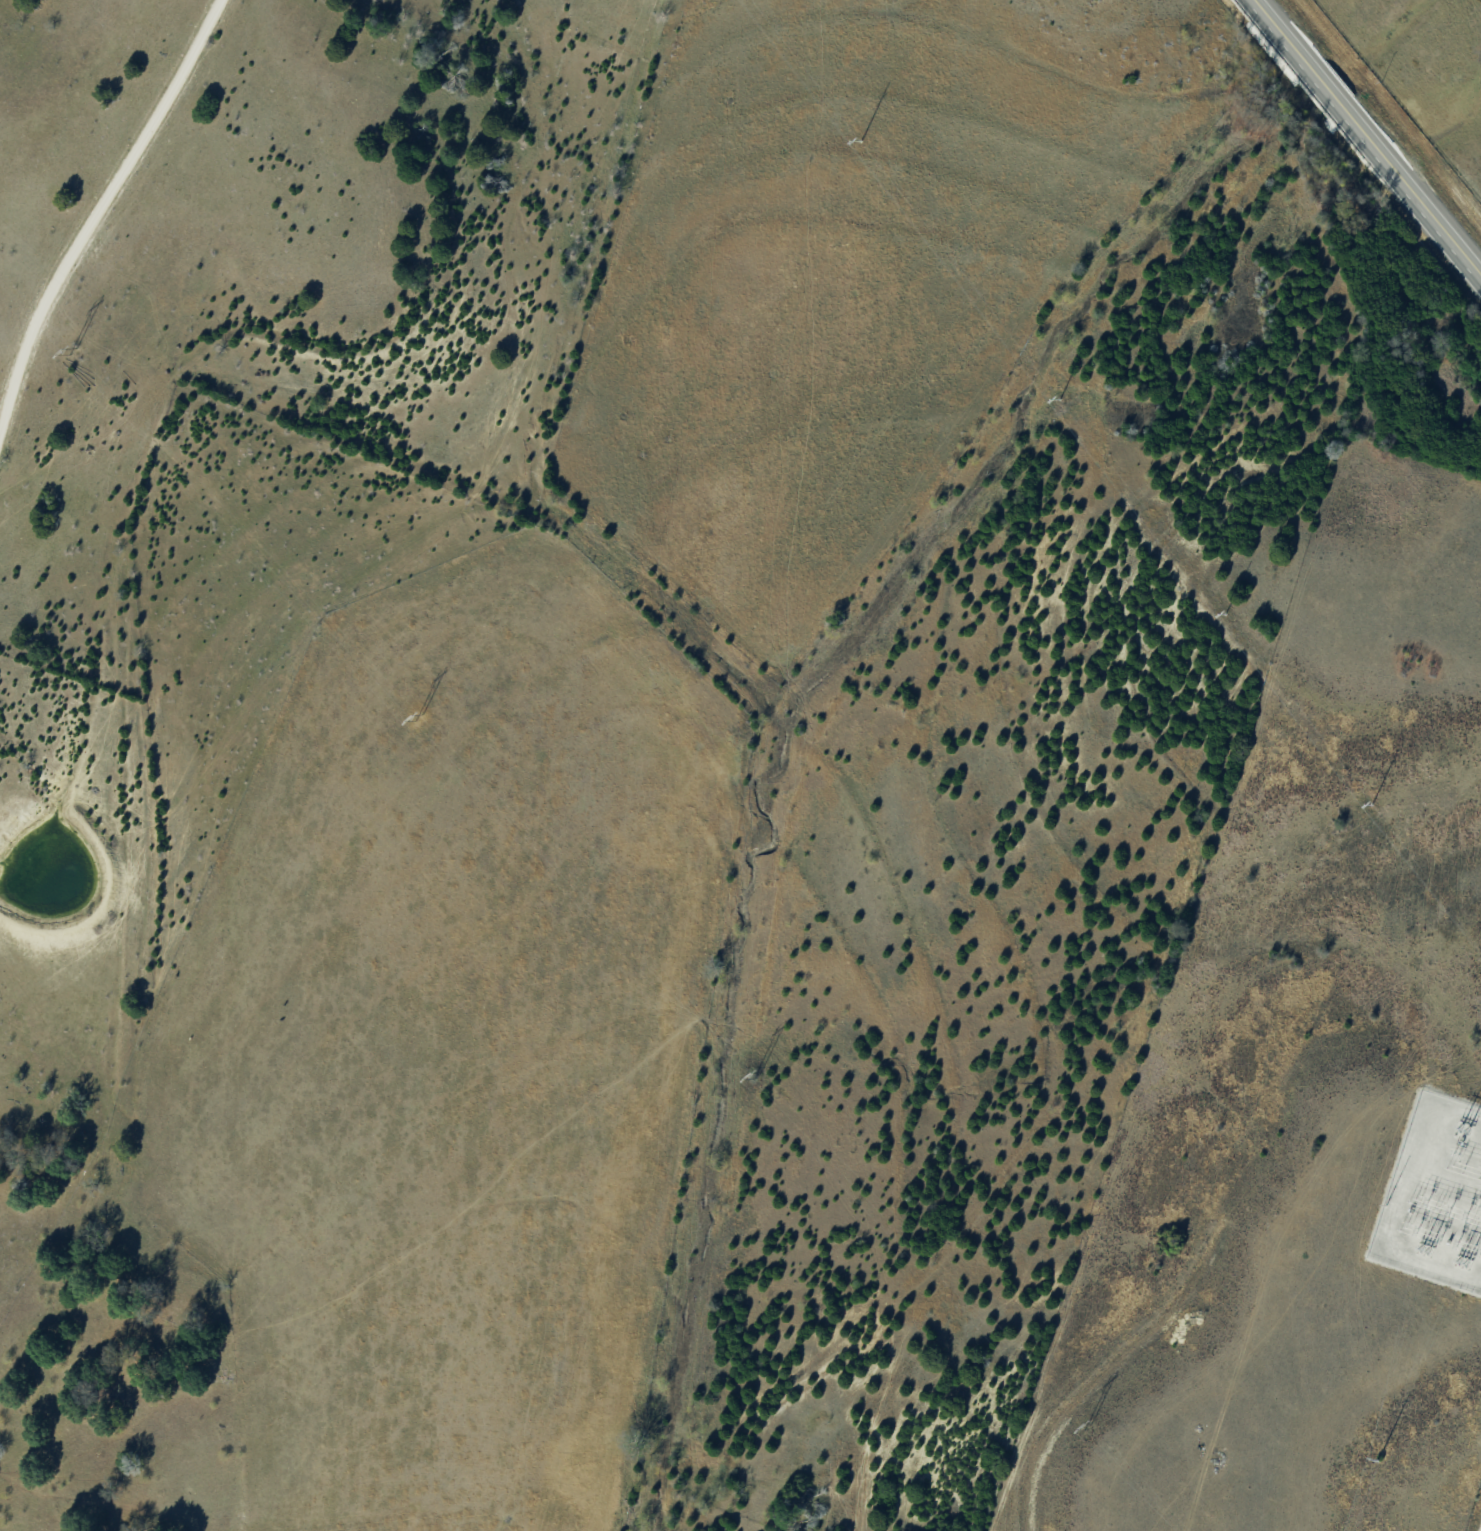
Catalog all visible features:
road: (1369, 136)
power tower: (860, 141)
road: (95, 207)
power tower: (71, 351)
power tower: (1059, 399)
power tower: (1225, 614)
power tower: (417, 718)
power tower: (1370, 805)
power tower: (755, 1075)
power substation: (1435, 1196)
power tower: (1086, 1426)
power tower: (1377, 1460)

